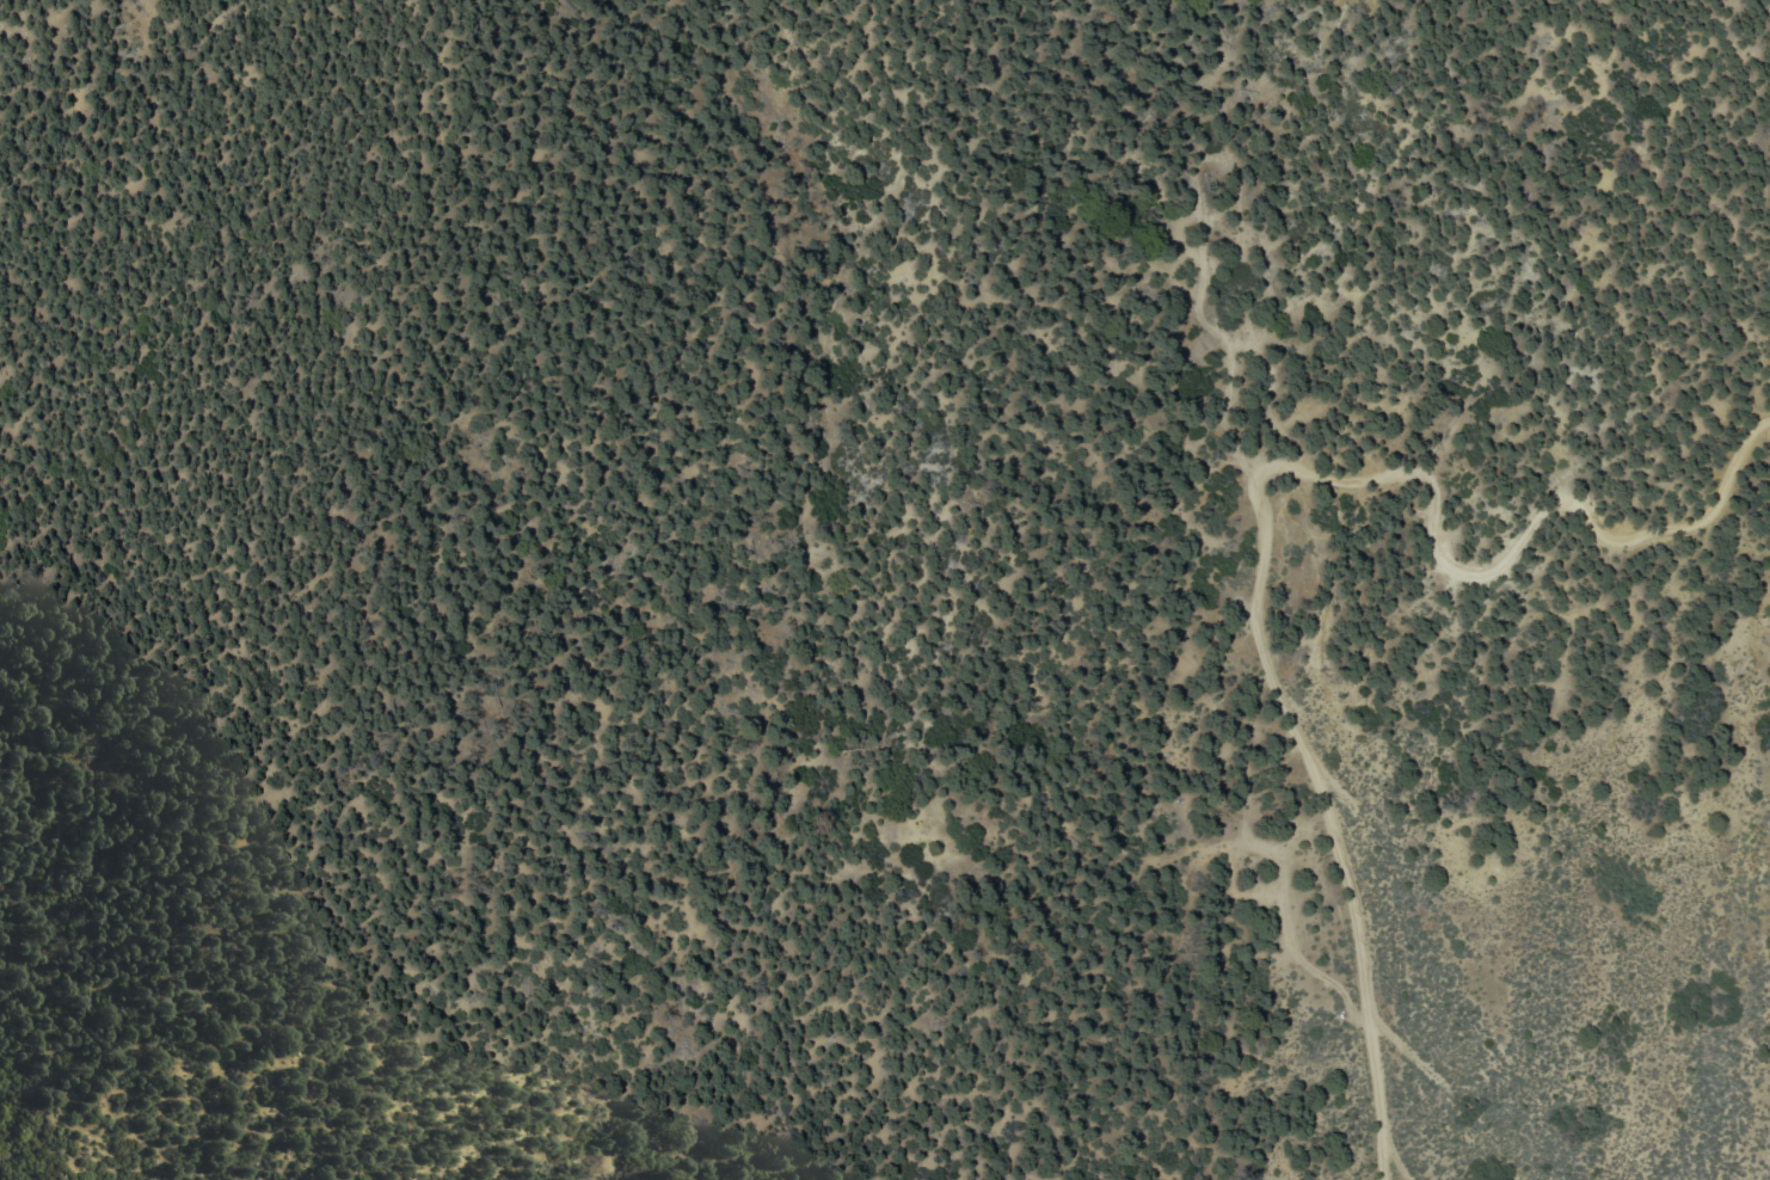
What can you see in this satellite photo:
road: (1258, 492)

